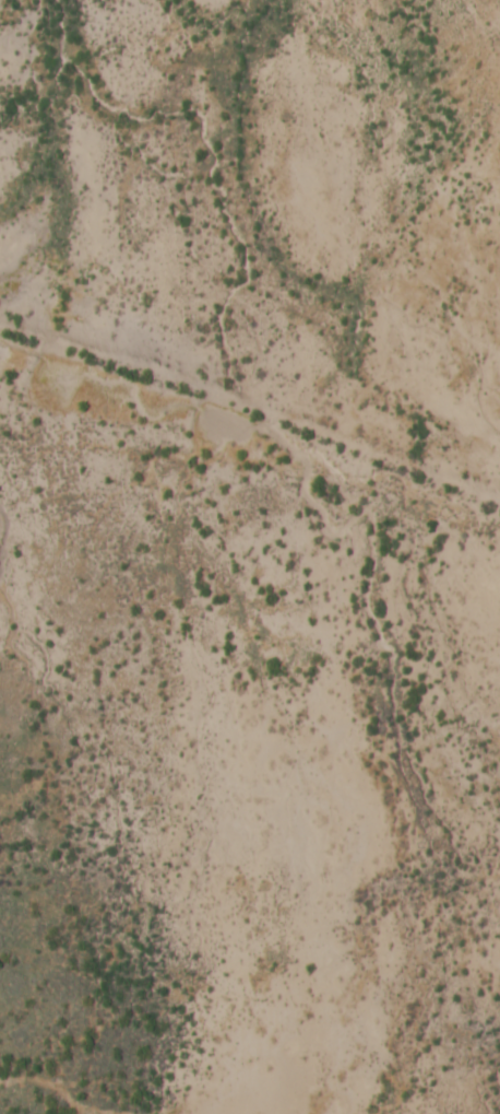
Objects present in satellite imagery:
river: (273, 409)
river: (496, 1090)

